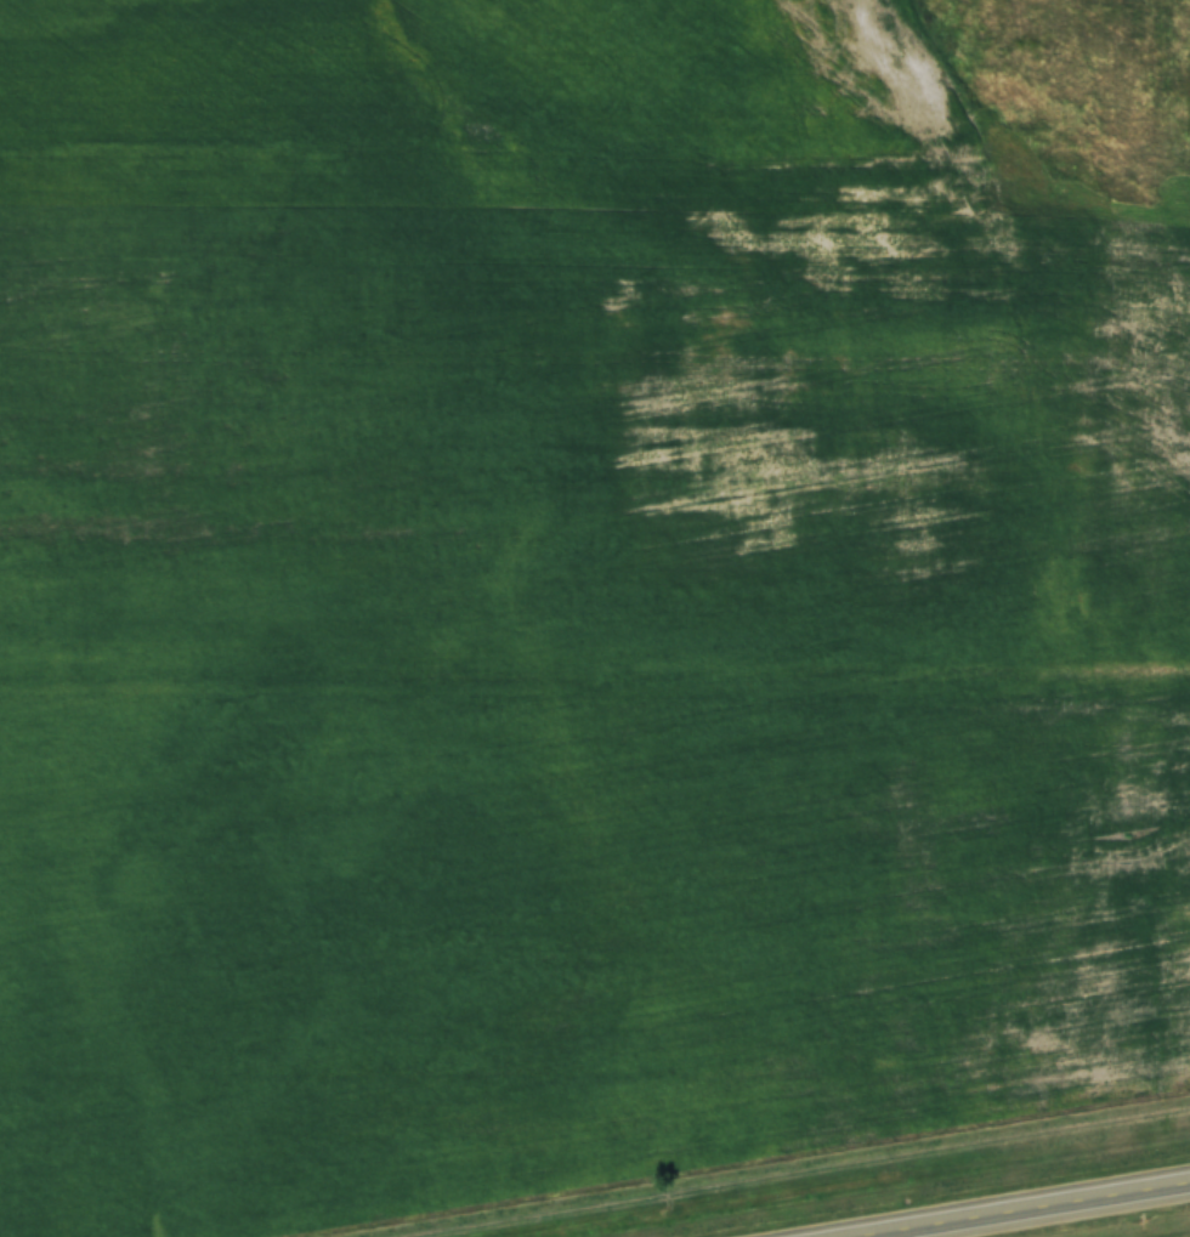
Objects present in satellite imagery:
road: (1016, 1208)
road: (1100, 1216)

